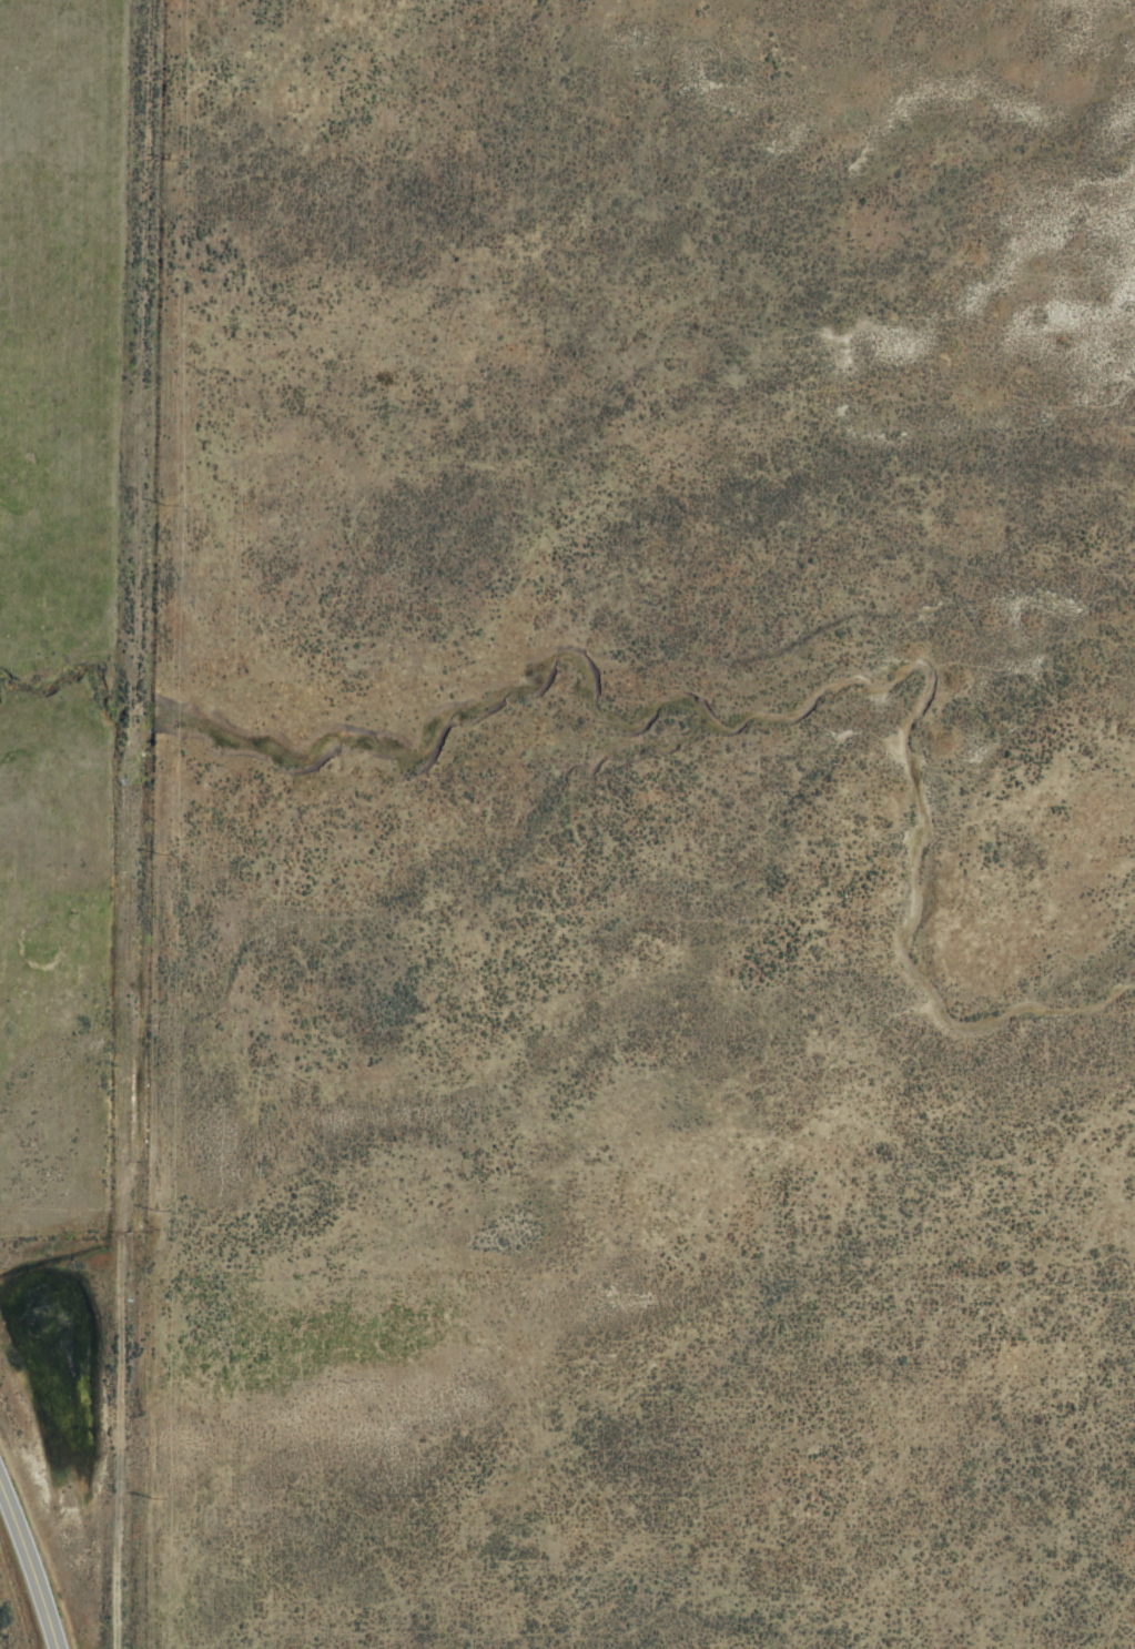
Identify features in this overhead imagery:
road: (161, 824)
crop: (567, 824)
road: (22, 1589)

